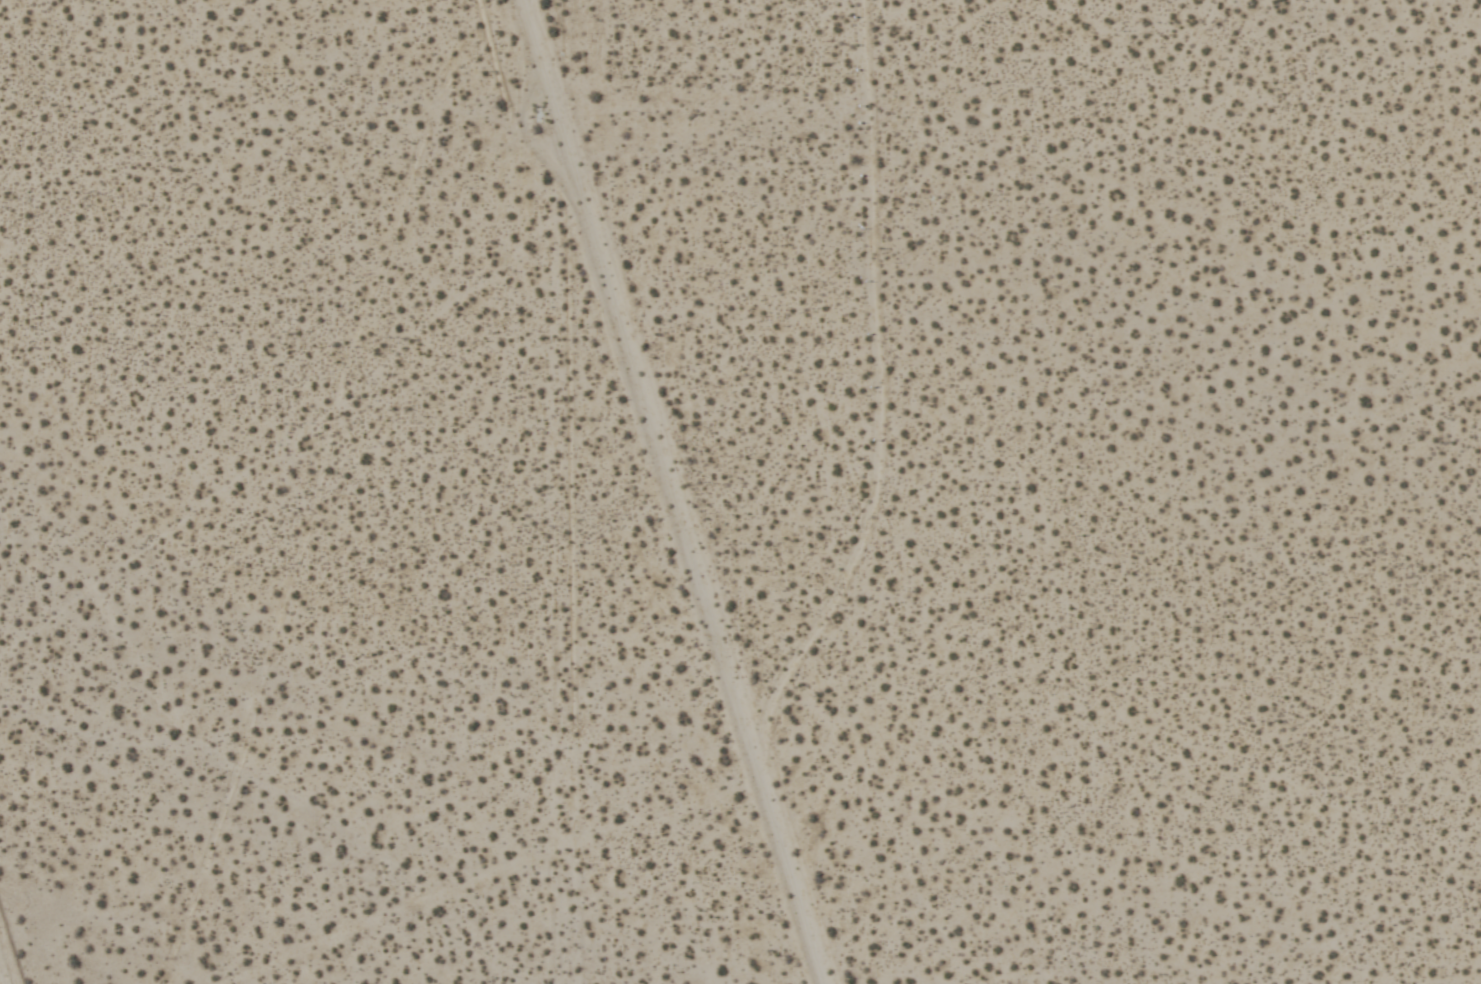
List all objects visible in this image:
road: (676, 492)

